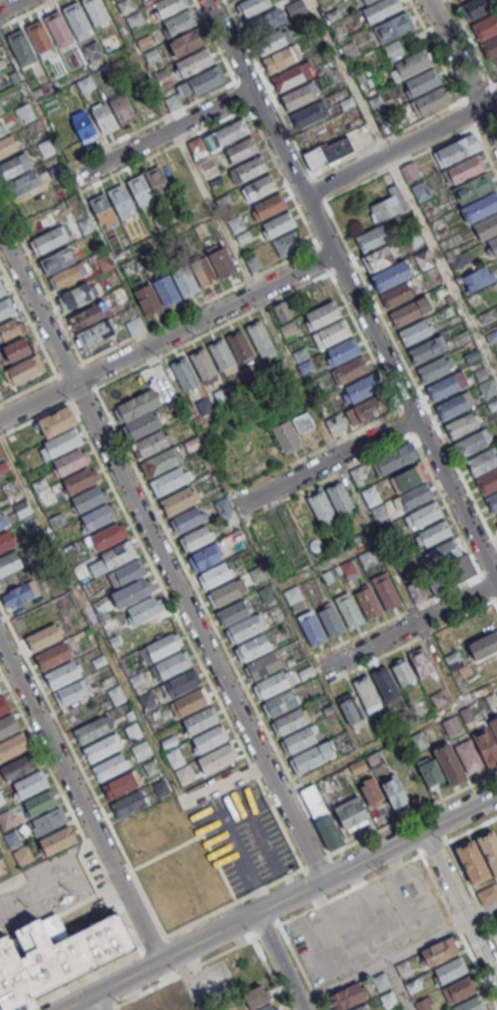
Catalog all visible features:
building: (149, 0)
building: (366, 1)
road: (10, 5)
building: (124, 5)
building: (168, 6)
building: (252, 6)
building: (477, 7)
building: (295, 8)
building: (381, 9)
building: (97, 12)
building: (134, 19)
building: (78, 20)
building: (266, 20)
building: (180, 22)
building: (393, 26)
building: (59, 28)
building: (487, 34)
building: (41, 39)
building: (145, 41)
building: (187, 41)
building: (274, 41)
road: (473, 42)
building: (22, 48)
building: (93, 50)
building: (393, 50)
road: (453, 54)
building: (152, 56)
building: (280, 58)
building: (195, 62)
building: (411, 64)
building: (108, 72)
building: (162, 74)
building: (15, 76)
building: (289, 77)
building: (203, 81)
building: (423, 81)
building: (87, 84)
road: (496, 84)
building: (300, 95)
building: (140, 96)
building: (430, 101)
building: (174, 102)
building: (122, 108)
building: (1, 110)
building: (25, 112)
building: (309, 113)
building: (103, 117)
road: (256, 124)
building: (83, 125)
road: (488, 125)
building: (3, 129)
building: (229, 132)
road: (160, 135)
building: (8, 145)
building: (324, 145)
road: (399, 147)
building: (240, 150)
building: (457, 150)
building: (12, 167)
building: (209, 169)
building: (248, 169)
building: (58, 171)
building: (158, 181)
building: (23, 183)
road: (404, 184)
building: (258, 187)
building: (473, 188)
building: (140, 190)
building: (121, 201)
building: (388, 205)
building: (268, 206)
building: (101, 208)
building: (277, 224)
building: (486, 228)
building: (372, 237)
building: (49, 239)
building: (288, 243)
building: (493, 245)
building: (380, 257)
road: (323, 258)
building: (58, 259)
building: (221, 259)
building: (423, 259)
building: (203, 271)
building: (391, 275)
building: (65, 276)
building: (478, 278)
road: (42, 280)
building: (184, 280)
building: (166, 289)
building: (1, 290)
road: (350, 290)
building: (77, 295)
building: (396, 295)
building: (147, 299)
road: (198, 304)
building: (6, 307)
building: (282, 310)
building: (406, 313)
building: (322, 314)
building: (87, 316)
road: (29, 320)
building: (135, 325)
building: (10, 328)
building: (288, 328)
road: (211, 330)
building: (416, 331)
building: (95, 333)
building: (331, 333)
building: (259, 335)
road: (166, 337)
building: (240, 345)
building: (427, 348)
building: (17, 349)
building: (341, 351)
road: (286, 352)
building: (221, 354)
building: (303, 362)
building: (202, 363)
building: (435, 368)
building: (25, 369)
road: (70, 369)
building: (350, 370)
building: (183, 372)
road: (89, 376)
building: (236, 384)
building: (447, 385)
road: (29, 388)
road: (63, 388)
building: (359, 389)
road: (83, 395)
building: (204, 405)
building: (454, 405)
building: (133, 406)
building: (364, 410)
road: (36, 418)
building: (56, 420)
building: (336, 423)
building: (461, 425)
building: (139, 426)
building: (307, 426)
building: (286, 435)
road: (413, 437)
building: (63, 442)
building: (149, 443)
building: (470, 443)
crop: (238, 445)
road: (316, 450)
building: (394, 457)
building: (69, 461)
road: (327, 461)
building: (482, 461)
building: (159, 462)
road: (330, 477)
building: (407, 478)
building: (79, 480)
building: (168, 481)
building: (487, 481)
building: (416, 495)
building: (371, 496)
building: (339, 497)
building: (87, 498)
building: (177, 501)
building: (492, 502)
building: (321, 507)
building: (379, 512)
building: (426, 514)
building: (97, 516)
building: (496, 517)
building: (186, 519)
building: (2, 520)
building: (434, 532)
building: (106, 535)
building: (195, 538)
building: (357, 539)
building: (7, 541)
building: (338, 548)
building: (444, 551)
road: (163, 552)
building: (117, 554)
building: (204, 557)
building: (368, 558)
building: (10, 563)
building: (338, 569)
building: (350, 569)
building: (126, 573)
building: (214, 574)
building: (260, 574)
building: (451, 574)
building: (329, 578)
building: (385, 590)
building: (417, 592)
building: (130, 593)
building: (224, 593)
building: (20, 594)
building: (269, 594)
road: (166, 595)
building: (295, 595)
building: (368, 601)
building: (142, 609)
building: (349, 609)
building: (231, 613)
road: (398, 615)
road: (212, 620)
building: (331, 620)
road: (410, 626)
building: (311, 627)
building: (245, 628)
building: (43, 637)
road: (411, 640)
building: (483, 645)
building: (161, 646)
building: (253, 646)
building: (52, 656)
road: (113, 658)
building: (454, 660)
building: (421, 661)
building: (171, 664)
building: (263, 665)
building: (402, 671)
building: (308, 672)
building: (62, 675)
building: (180, 683)
building: (272, 683)
building: (385, 683)
building: (0, 690)
building: (71, 692)
building: (367, 693)
building: (189, 701)
building: (281, 702)
building: (3, 705)
building: (352, 711)
building: (199, 720)
building: (290, 720)
building: (8, 725)
building: (451, 725)
building: (90, 730)
building: (208, 739)
building: (299, 739)
road: (390, 739)
building: (418, 741)
building: (487, 742)
building: (12, 745)
building: (100, 748)
building: (141, 750)
building: (469, 756)
building: (175, 757)
building: (216, 758)
building: (309, 758)
building: (449, 763)
building: (18, 766)
building: (109, 766)
road: (83, 770)
building: (430, 771)
building: (184, 773)
building: (30, 784)
building: (119, 785)
building: (371, 791)
building: (395, 791)
road: (271, 795)
road: (80, 797)
building: (1, 798)
road: (268, 798)
building: (39, 802)
building: (127, 804)
building: (350, 811)
road: (411, 814)
road: (72, 815)
building: (48, 820)
road: (472, 829)
building: (329, 832)
road: (228, 833)
road: (201, 834)
road: (287, 836)
building: (57, 840)
parking lot: (248, 840)
road: (262, 841)
building: (489, 849)
building: (23, 855)
road: (425, 860)
building: (472, 861)
road: (316, 862)
parking lot: (95, 868)
road: (466, 879)
road: (11, 883)
building: (487, 894)
road: (263, 897)
road: (282, 901)
road: (233, 902)
road: (459, 906)
road: (481, 912)
building: (496, 913)
road: (152, 943)
building: (439, 950)
road: (294, 952)
road: (220, 953)
building: (56, 954)
road: (382, 960)
road: (278, 962)
building: (403, 968)
building: (450, 969)
road: (82, 978)
road: (188, 981)
building: (381, 981)
road: (396, 985)
building: (413, 985)
building: (458, 989)
building: (179, 994)
building: (347, 996)
building: (255, 997)
building: (388, 999)
road: (95, 1004)
building: (423, 1004)
building: (470, 1004)
building: (133, 1005)
road: (114, 1007)
building: (265, 1007)
building: (360, 1007)

